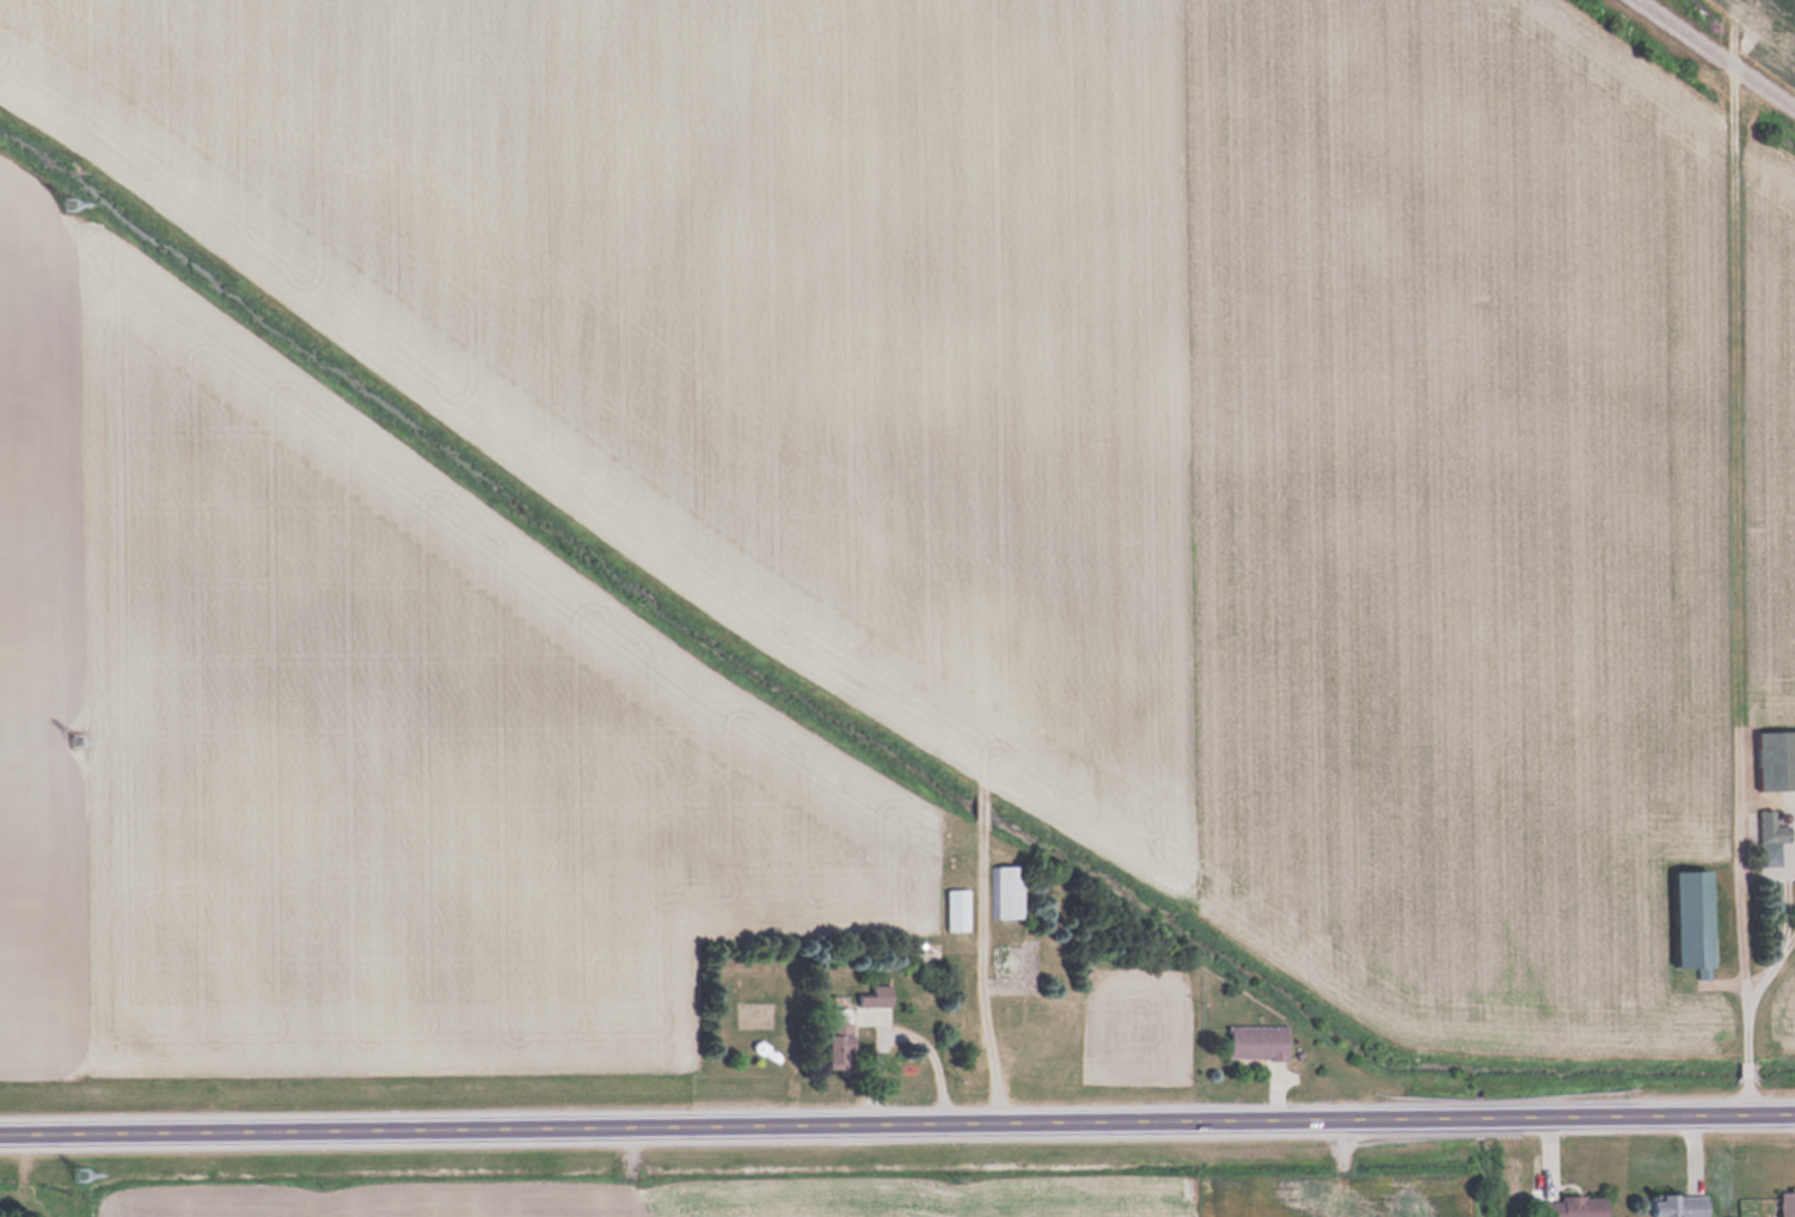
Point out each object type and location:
railway: (1715, 54)
power tower: (71, 202)
building: (71, 203)
power tower: (79, 747)
building: (1777, 760)
building: (1771, 838)
building: (1007, 891)
building: (958, 907)
building: (1695, 919)
building: (877, 996)
building: (839, 1038)
building: (1257, 1040)
road: (896, 1126)
power tower: (87, 1178)
building: (1787, 1201)
building: (1679, 1205)
building: (1574, 1206)

